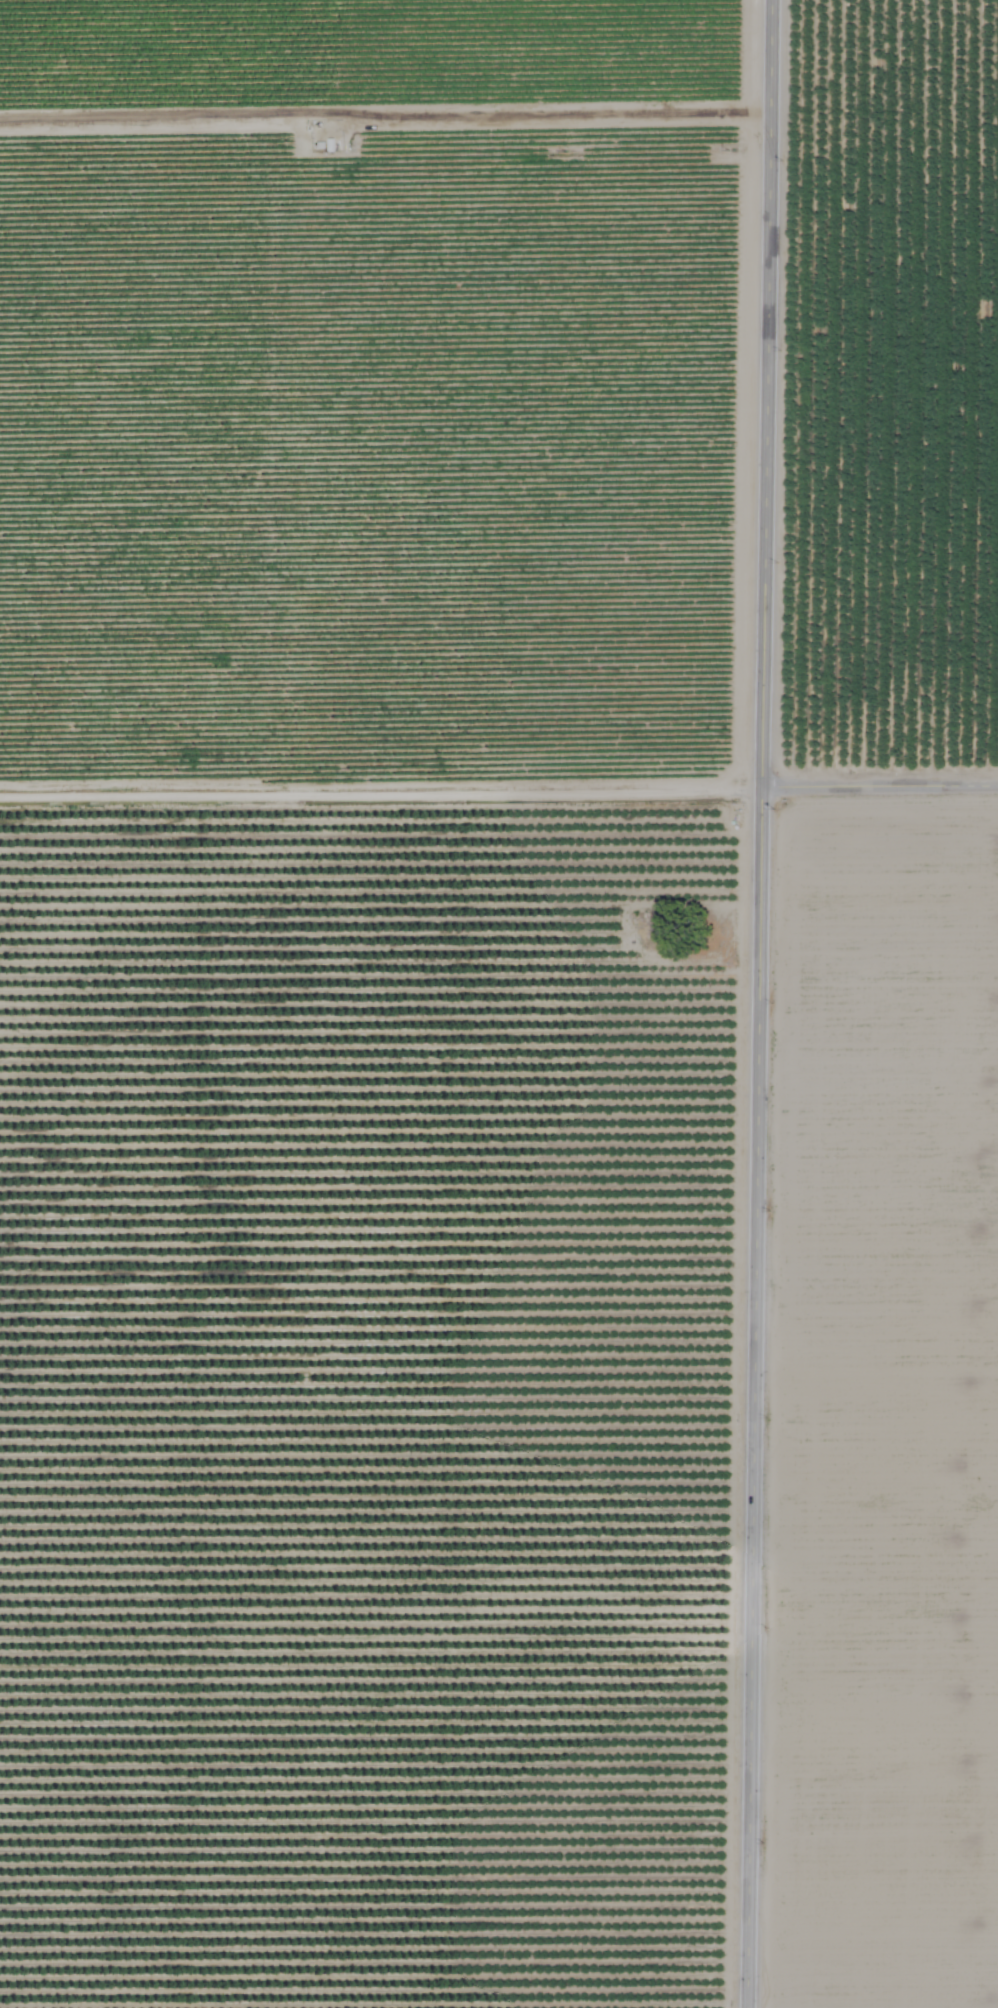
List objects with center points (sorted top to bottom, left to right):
road: (382, 114)
road: (498, 779)
road: (745, 1003)

